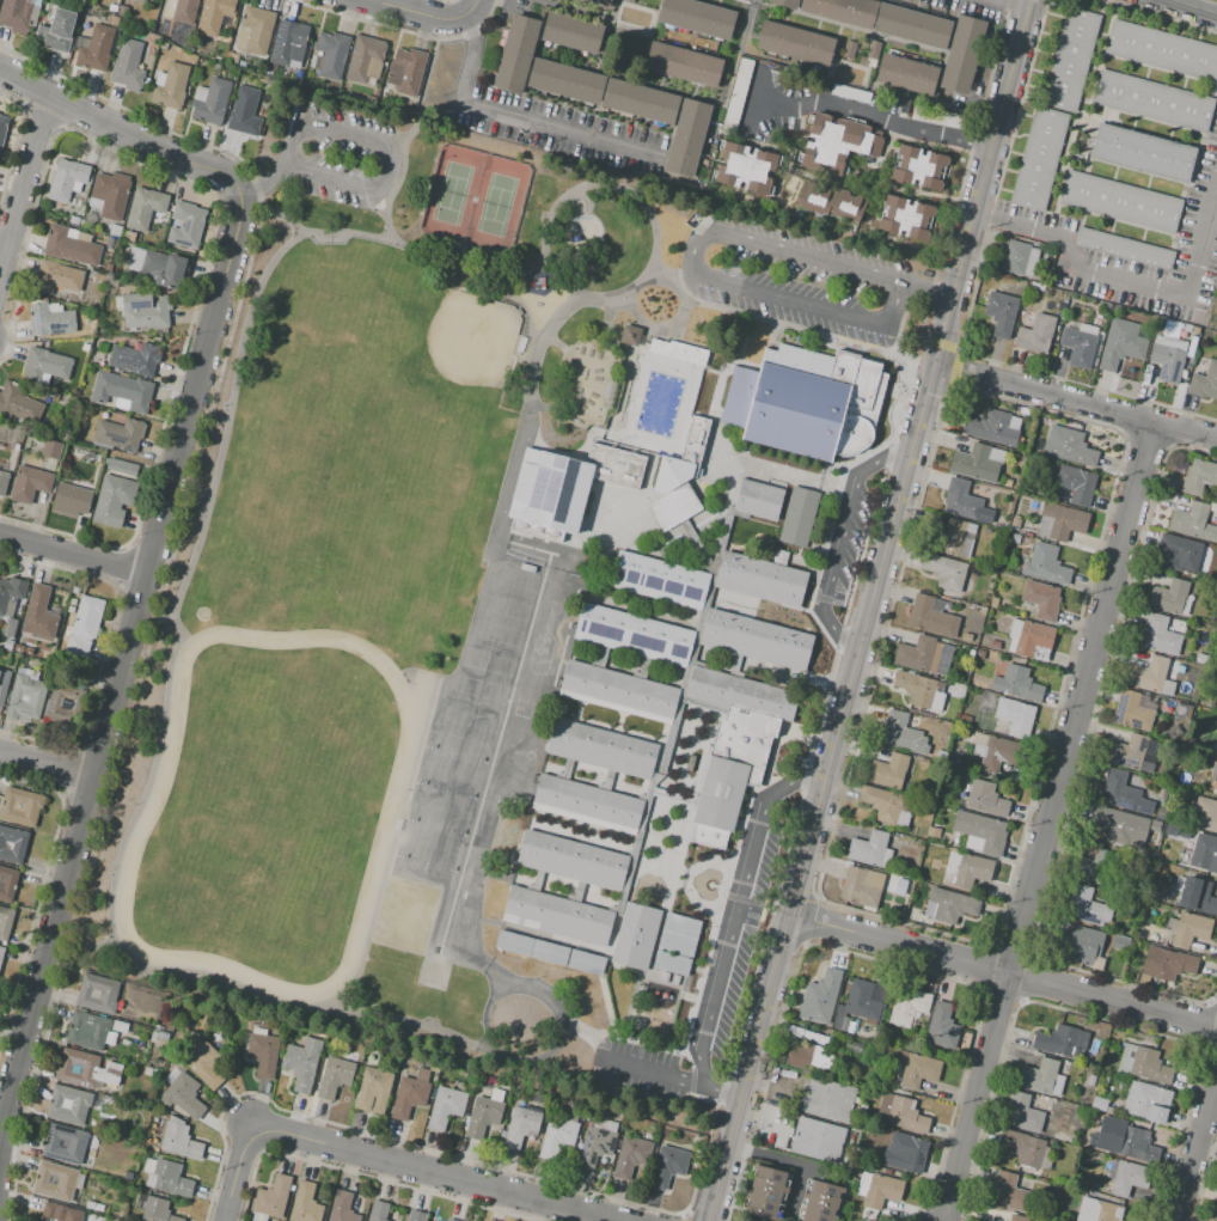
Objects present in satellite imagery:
building: (135, 0)
building: (141, 1)
building: (599, 2)
building: (785, 2)
road: (1009, 4)
building: (111, 7)
building: (185, 11)
building: (843, 11)
road: (1179, 11)
building: (16, 14)
building: (214, 14)
road: (426, 16)
building: (696, 17)
building: (112, 20)
building: (913, 26)
building: (255, 31)
building: (56, 32)
building: (571, 32)
building: (286, 39)
building: (163, 44)
building: (795, 44)
building: (96, 49)
building: (1162, 51)
building: (331, 54)
building: (515, 54)
building: (962, 55)
building: (363, 56)
building: (1070, 60)
building: (683, 65)
building: (128, 66)
building: (410, 69)
road: (428, 74)
building: (907, 74)
building: (564, 81)
building: (171, 86)
road: (752, 100)
building: (1152, 100)
building: (213, 102)
building: (641, 102)
building: (244, 112)
road: (518, 115)
road: (872, 116)
building: (2, 129)
road: (126, 132)
building: (687, 138)
building: (837, 144)
road: (386, 151)
building: (1142, 153)
parking lot: (340, 157)
building: (1038, 158)
building: (745, 167)
building: (919, 167)
road: (399, 171)
road: (262, 178)
building: (66, 179)
road: (24, 183)
building: (110, 195)
park: (475, 199)
building: (831, 201)
building: (1120, 202)
building: (145, 208)
building: (905, 218)
building: (73, 220)
building: (185, 225)
road: (360, 234)
building: (72, 245)
building: (1124, 248)
park: (587, 254)
building: (1015, 257)
building: (158, 267)
road: (695, 273)
building: (57, 277)
building: (100, 277)
road: (1125, 279)
parking lot: (795, 280)
road: (923, 289)
building: (1062, 306)
building: (146, 311)
building: (1001, 313)
building: (49, 320)
building: (1035, 334)
building: (630, 335)
building: (1077, 346)
building: (84, 347)
building: (678, 352)
building: (1123, 352)
building: (135, 358)
park: (446, 358)
building: (1167, 364)
building: (45, 365)
building: (1204, 381)
road: (237, 387)
building: (122, 390)
road: (1075, 399)
building: (806, 402)
building: (18, 403)
building: (993, 427)
building: (118, 434)
building: (695, 441)
building: (1068, 446)
building: (16, 447)
building: (50, 448)
building: (977, 462)
park: (316, 469)
building: (1199, 476)
building: (2, 482)
building: (30, 483)
building: (568, 483)
building: (1008, 483)
building: (1076, 483)
building: (116, 489)
building: (672, 493)
building: (71, 500)
building: (758, 500)
building: (961, 500)
building: (1034, 507)
building: (797, 517)
building: (1064, 520)
building: (1193, 523)
building: (1015, 524)
building: (953, 538)
building: (1015, 538)
road: (838, 541)
building: (1181, 551)
road: (74, 554)
building: (1045, 564)
building: (944, 572)
building: (760, 579)
building: (659, 580)
building: (11, 596)
building: (1168, 597)
building: (1041, 598)
building: (992, 602)
road: (867, 610)
building: (39, 613)
road: (155, 615)
building: (931, 616)
building: (84, 625)
building: (634, 635)
building: (1160, 635)
building: (966, 637)
building: (1028, 637)
building: (756, 640)
building: (7, 645)
building: (993, 645)
building: (19, 648)
building: (27, 651)
building: (918, 654)
building: (979, 654)
building: (1198, 658)
road: (121, 660)
building: (1150, 676)
building: (4, 683)
building: (1017, 684)
building: (919, 690)
building: (618, 691)
building: (741, 694)
building: (25, 697)
building: (63, 704)
building: (1135, 709)
building: (1015, 716)
building: (901, 734)
building: (1188, 741)
building: (1216, 745)
building: (601, 749)
building: (995, 752)
park: (454, 753)
building: (1133, 753)
road: (45, 763)
building: (888, 771)
building: (730, 773)
building: (1215, 773)
road: (148, 782)
park: (445, 790)
building: (1120, 792)
building: (985, 799)
building: (586, 804)
building: (20, 806)
building: (888, 806)
track: (267, 808)
building: (1160, 813)
building: (1206, 813)
park: (265, 818)
road: (1044, 819)
park: (435, 828)
building: (1121, 829)
building: (981, 831)
building: (932, 834)
building: (508, 836)
building: (12, 844)
building: (869, 850)
building: (1204, 853)
building: (573, 861)
park: (426, 863)
building: (1095, 867)
building: (971, 871)
building: (7, 884)
flagpole: (709, 885)
building: (861, 885)
building: (900, 887)
building: (1197, 896)
building: (495, 897)
building: (953, 905)
building: (1087, 906)
road: (738, 912)
building: (557, 916)
building: (5, 921)
building: (1190, 929)
building: (636, 936)
building: (675, 944)
building: (1120, 944)
road: (80, 945)
building: (1080, 945)
building: (550, 953)
building: (1, 954)
building: (1166, 964)
road: (1002, 971)
building: (1131, 976)
building: (97, 995)
building: (820, 997)
building: (864, 999)
building: (909, 1007)
road: (322, 1009)
building: (840, 1022)
road: (568, 1026)
building: (941, 1026)
building: (87, 1031)
building: (154, 1036)
building: (818, 1037)
building: (1062, 1042)
building: (854, 1046)
building: (263, 1055)
building: (808, 1057)
building: (201, 1060)
building: (301, 1063)
building: (1143, 1064)
building: (78, 1068)
building: (915, 1069)
building: (147, 1070)
road: (668, 1074)
building: (334, 1076)
building: (1038, 1076)
building: (1090, 1080)
building: (373, 1091)
building: (184, 1095)
building: (409, 1097)
building: (827, 1099)
building: (1146, 1103)
building: (1099, 1104)
building: (67, 1105)
building: (445, 1106)
building: (862, 1107)
building: (1022, 1113)
building: (905, 1116)
building: (484, 1117)
building: (521, 1127)
building: (557, 1136)
road: (1194, 1136)
building: (817, 1140)
building: (179, 1142)
building: (65, 1144)
building: (1135, 1144)
building: (594, 1146)
building: (1023, 1148)
building: (909, 1150)
building: (90, 1153)
building: (630, 1156)
building: (1084, 1158)
road: (790, 1161)
building: (667, 1165)
road: (236, 1172)
road: (430, 1172)
building: (128, 1176)
building: (1129, 1178)
building: (171, 1179)
building: (57, 1180)
building: (877, 1190)
building: (765, 1192)
building: (1010, 1193)
building: (273, 1197)
building: (819, 1202)
building: (305, 1203)
building: (91, 1205)
building: (98, 1208)
building: (342, 1208)
building: (154, 1209)
building: (1097, 1210)
building: (378, 1211)
building: (59, 1214)
building: (416, 1215)
building: (1216, 1216)
building: (1017, 1219)
building: (450, 1220)

